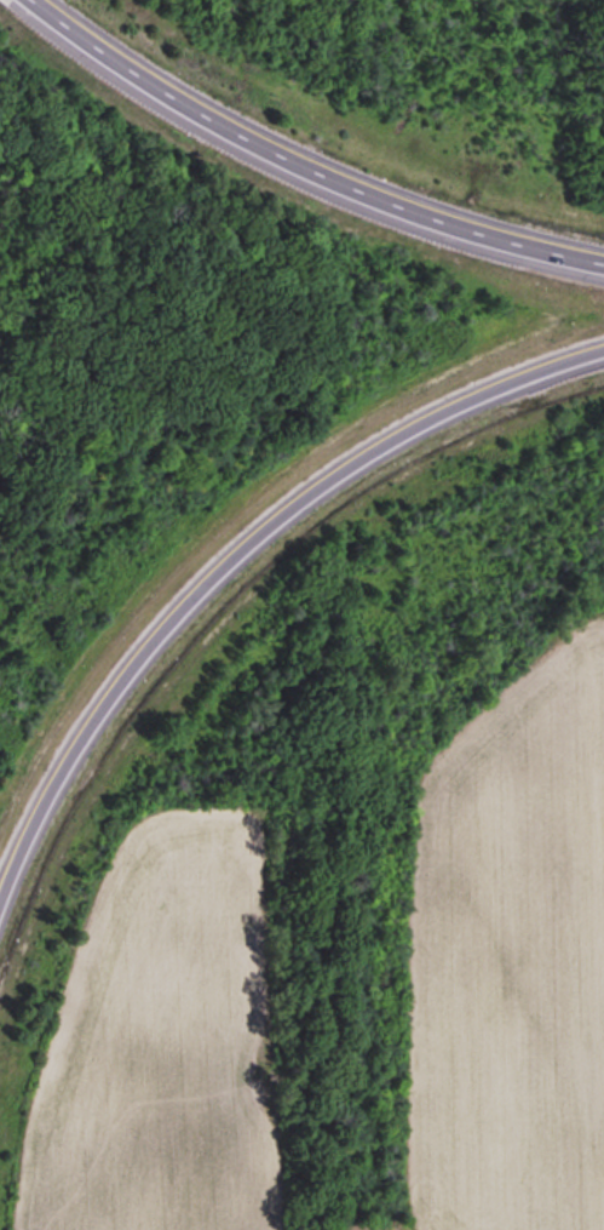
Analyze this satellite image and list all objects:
road: (28, 4)
road: (304, 167)
road: (238, 547)

